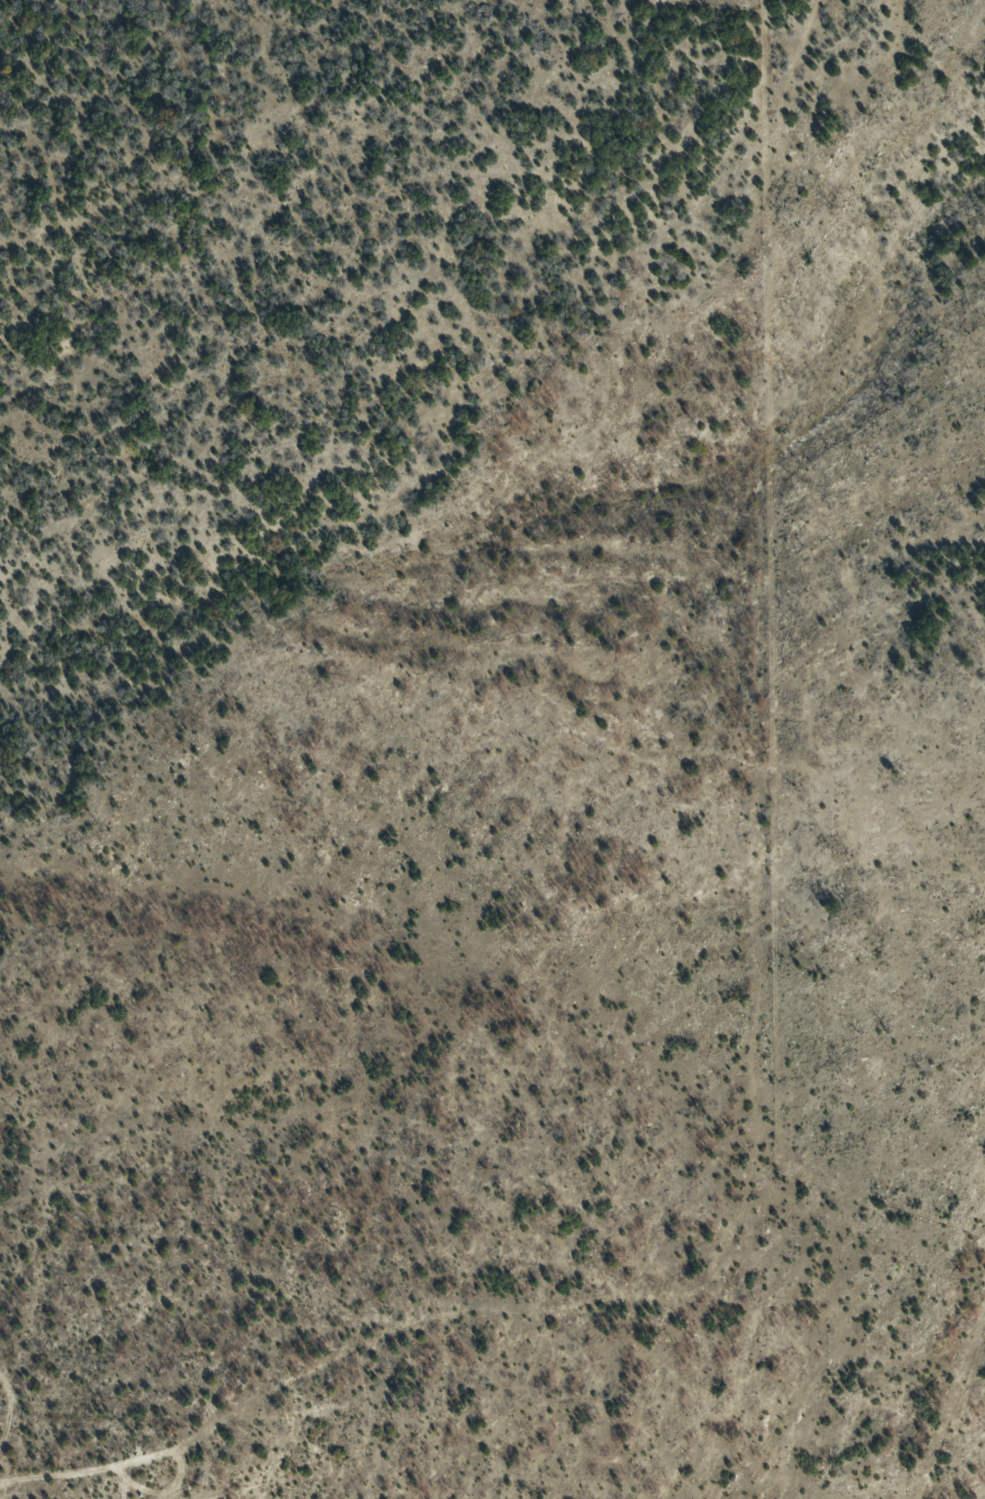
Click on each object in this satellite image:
road: (480, 1356)
road: (32, 1438)

